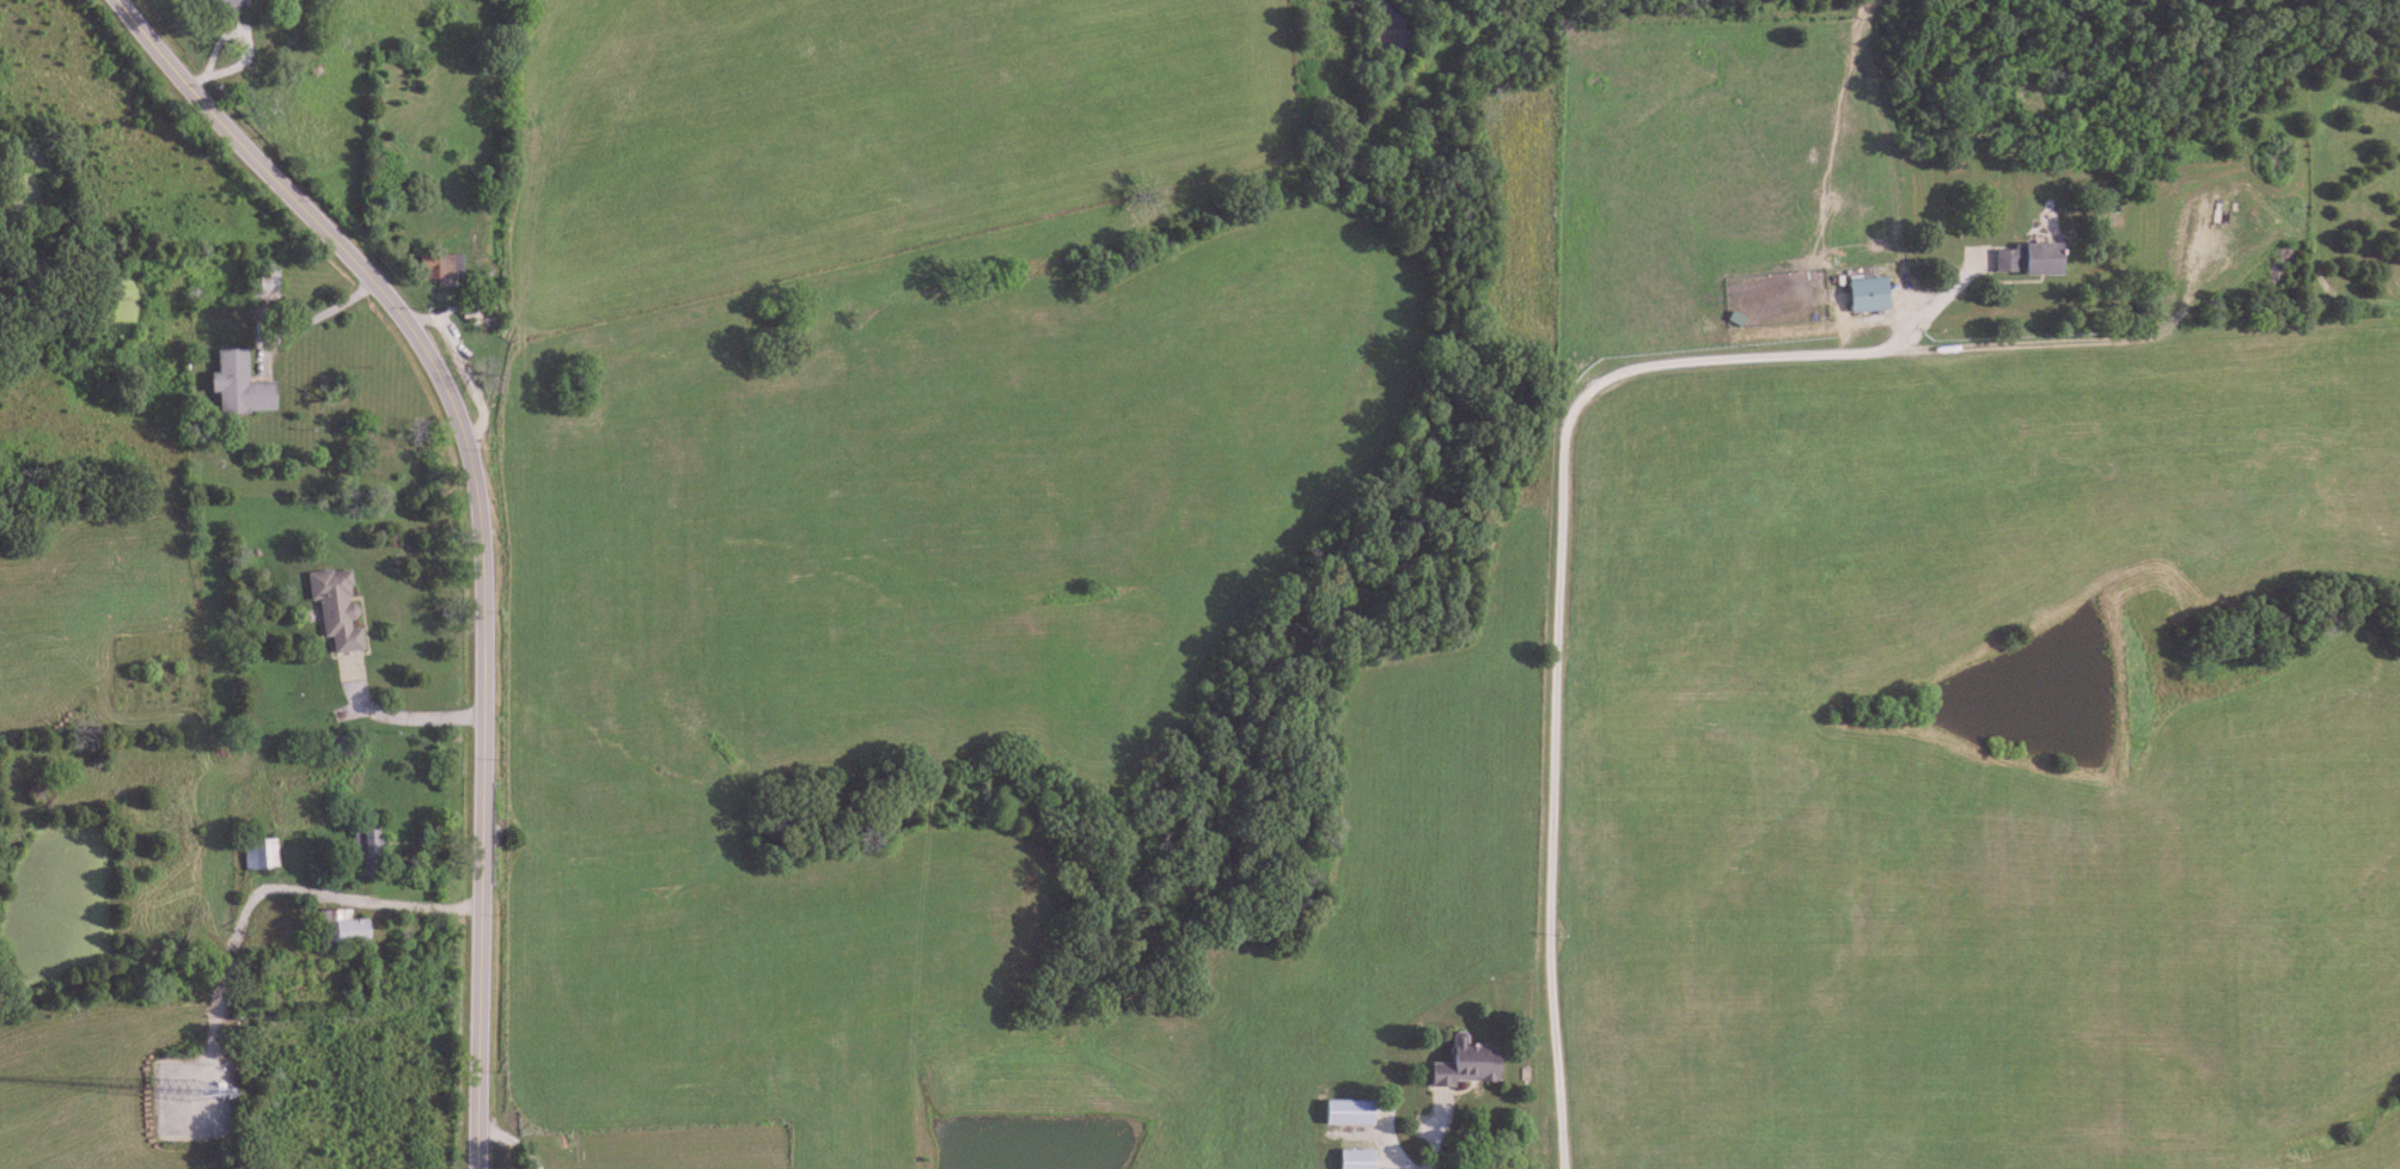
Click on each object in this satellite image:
building: (227, 2)
building: (2023, 259)
building: (438, 268)
building: (257, 283)
building: (1864, 295)
road: (311, 319)
building: (232, 384)
road: (480, 521)
road: (1561, 602)
building: (329, 607)
road: (402, 716)
building: (356, 843)
building: (254, 853)
road: (358, 899)
building: (332, 926)
road: (2351, 1030)
building: (1461, 1063)
park: (673, 1150)
building: (1349, 1158)

